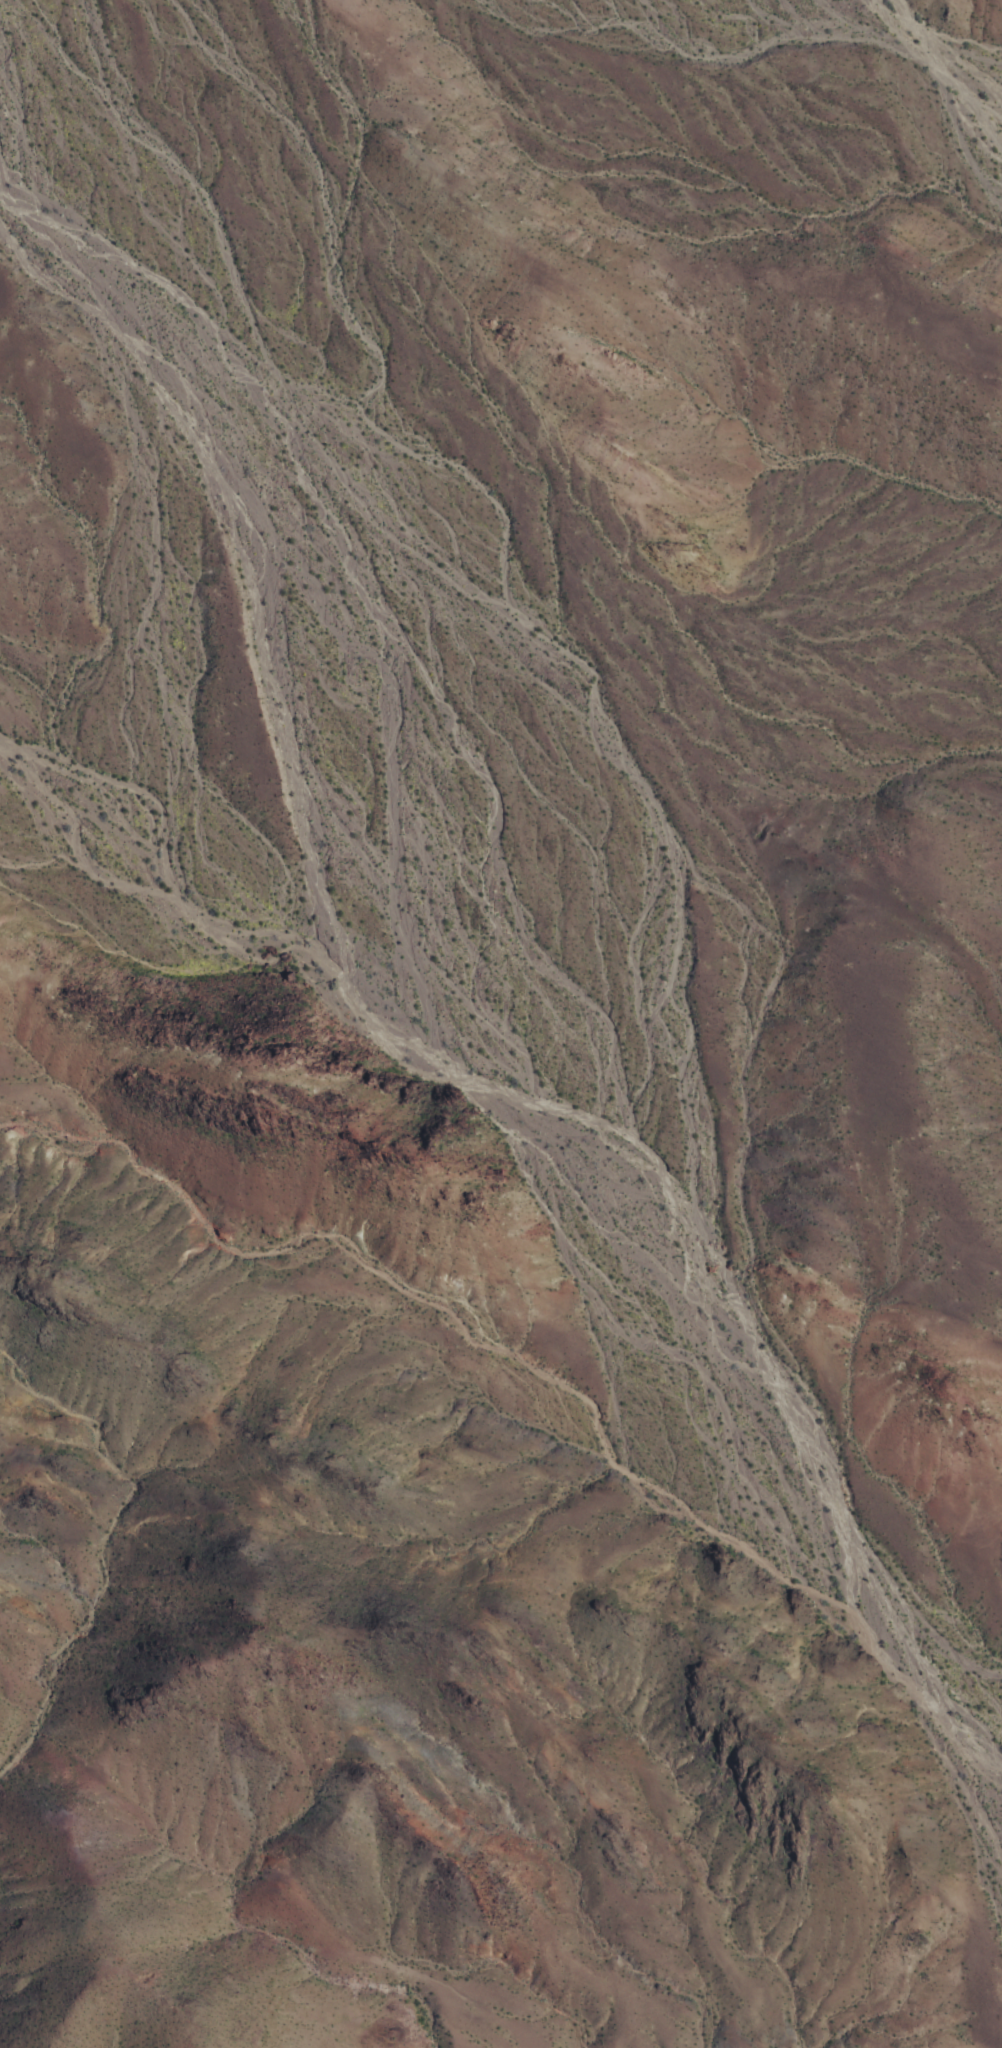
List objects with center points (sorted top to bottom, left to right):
road: (997, 2007)

